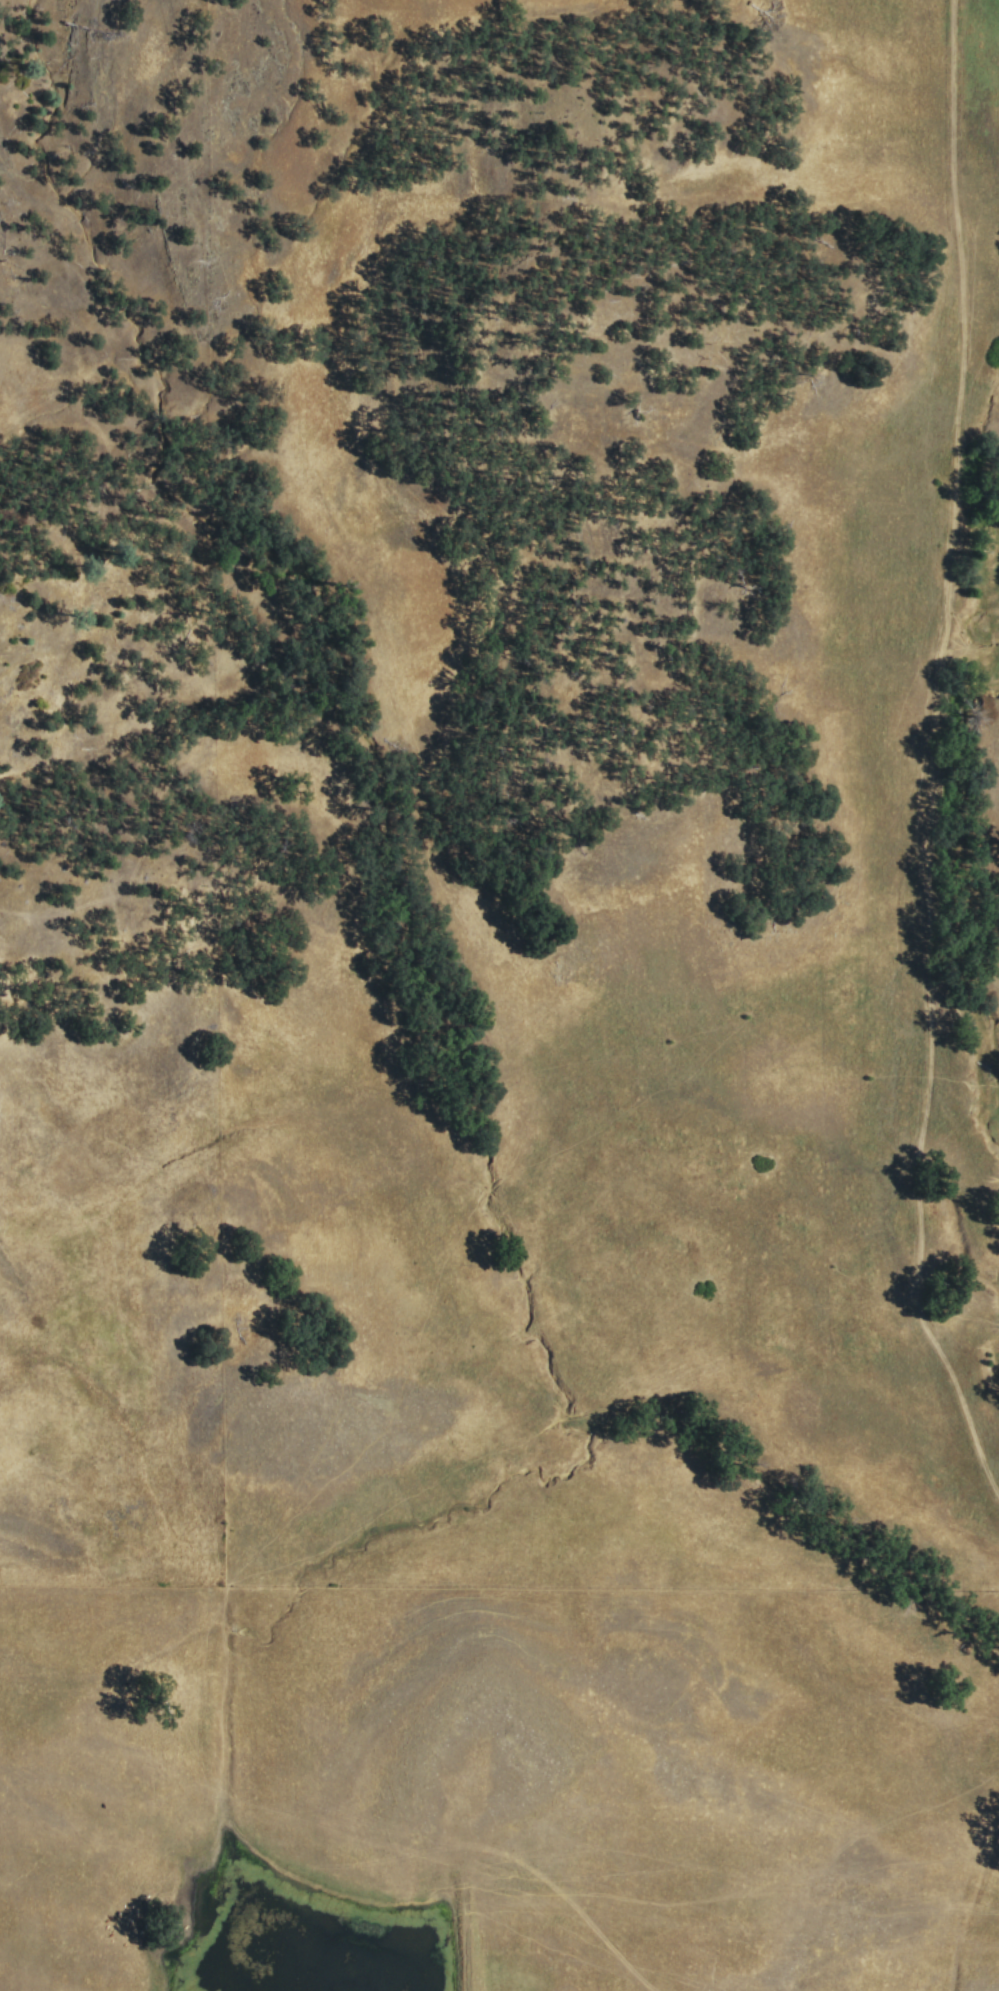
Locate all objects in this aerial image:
road: (940, 750)

